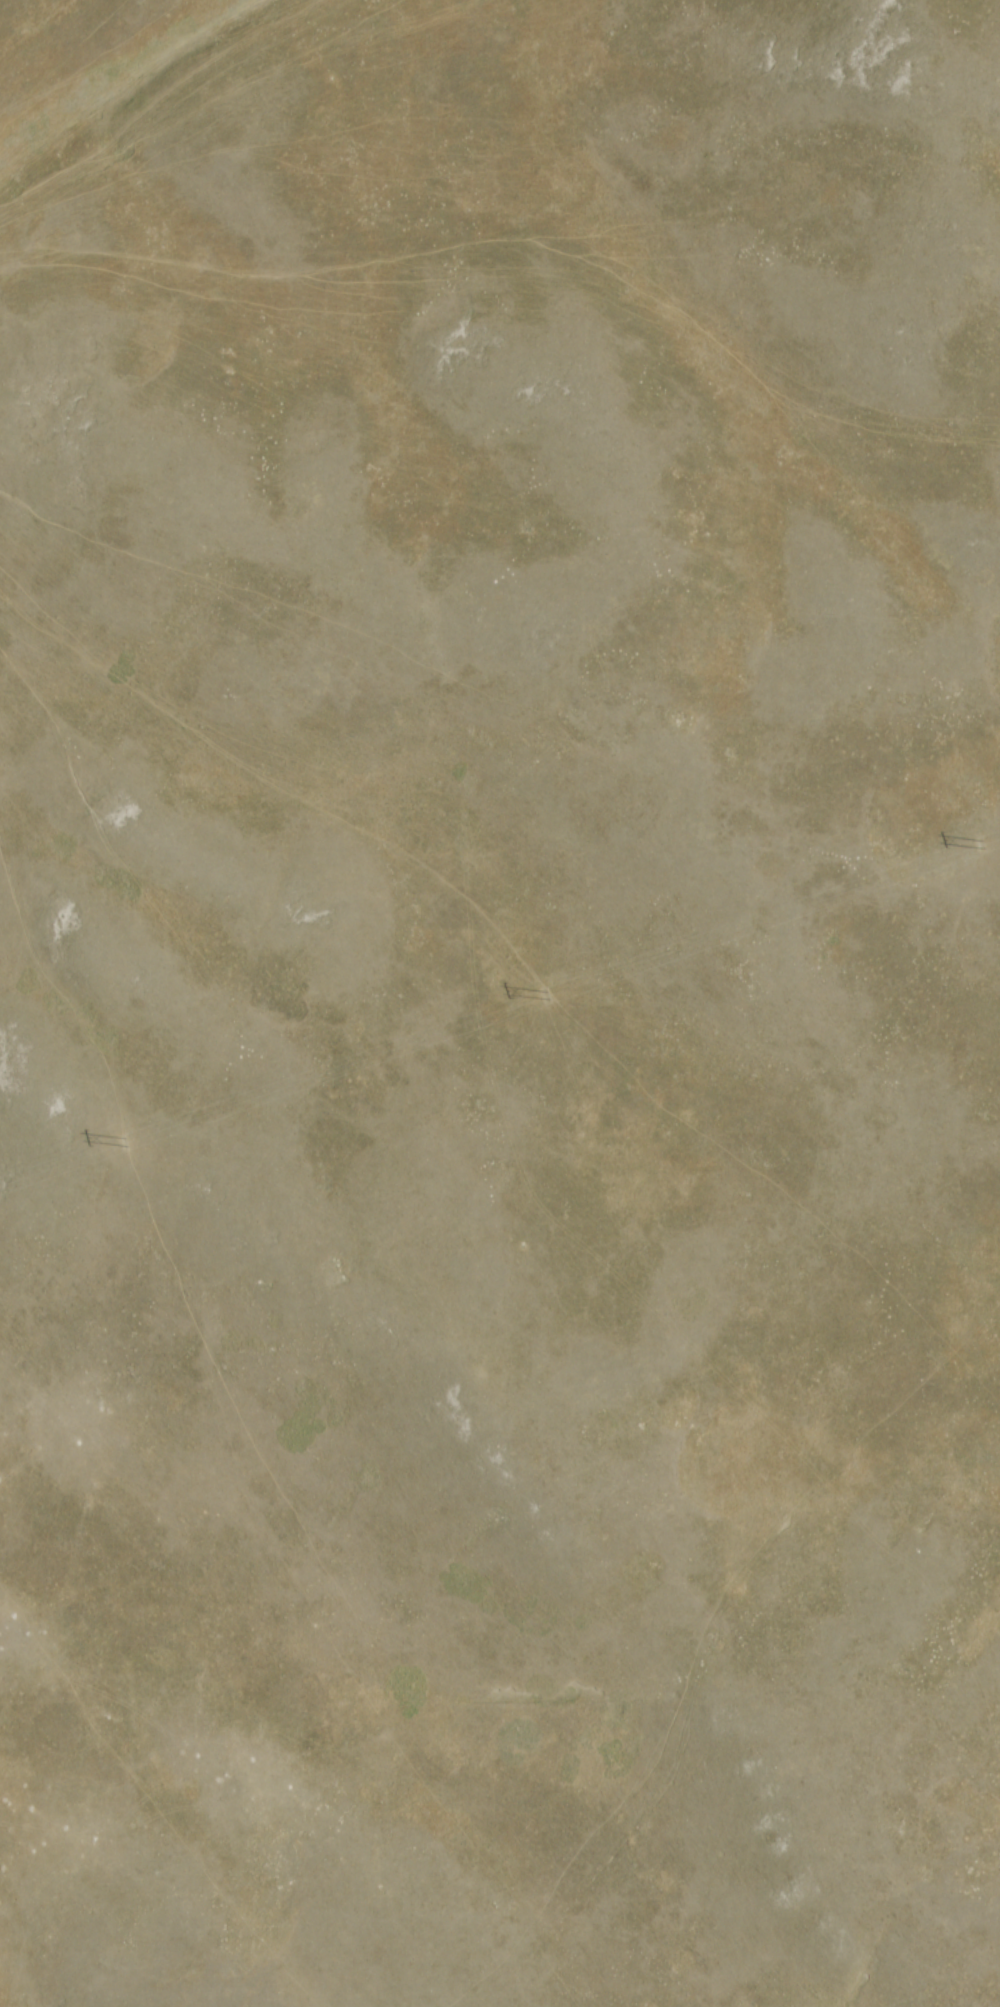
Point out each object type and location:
power tower: (978, 841)
power tower: (545, 993)
power tower: (123, 1140)

